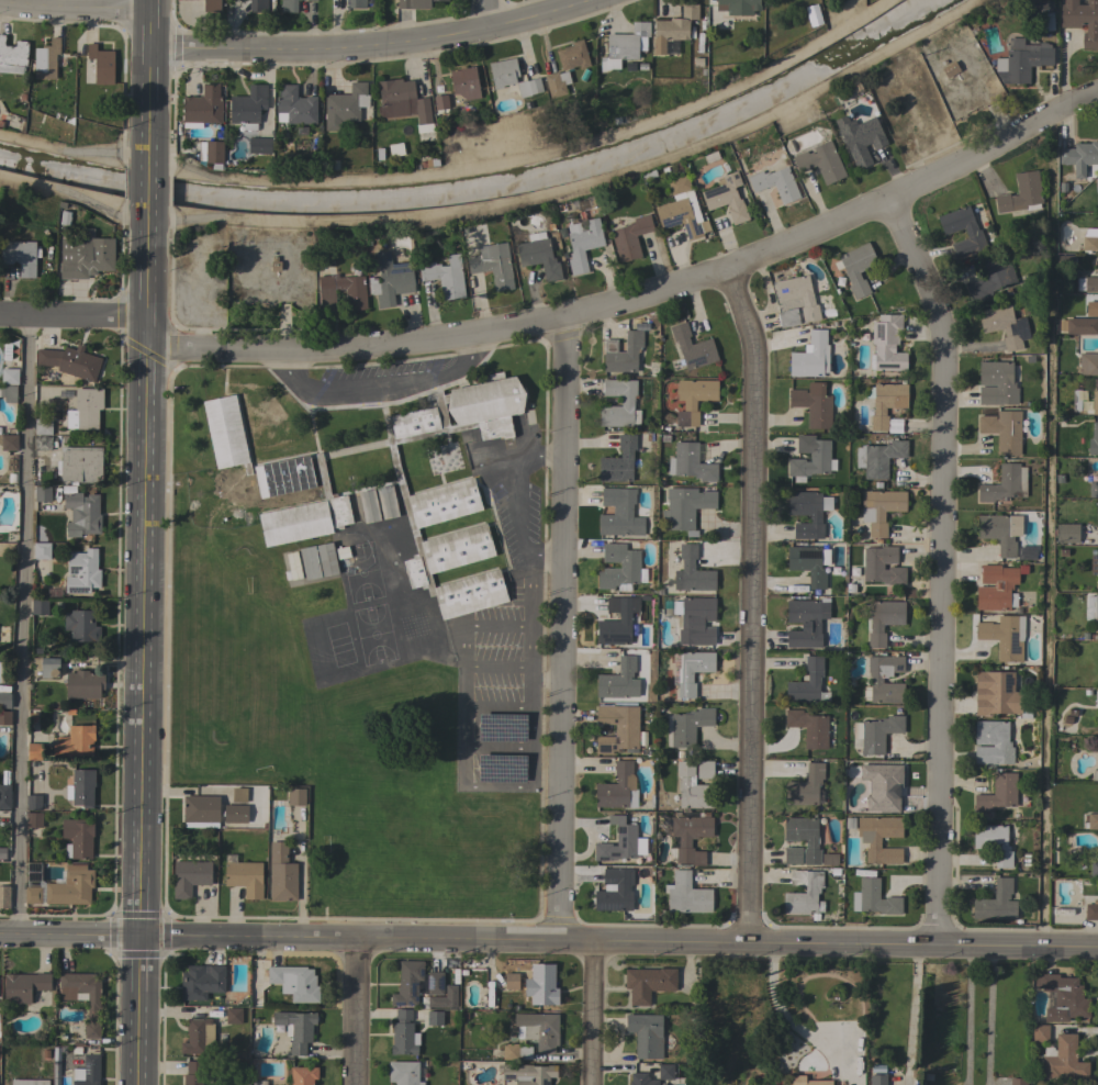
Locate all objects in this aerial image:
building: (797, 2)
building: (357, 3)
building: (415, 3)
building: (780, 3)
building: (211, 5)
building: (258, 5)
building: (289, 5)
building: (738, 5)
road: (78, 7)
road: (492, 12)
building: (1044, 15)
building: (1080, 20)
building: (673, 27)
road: (365, 44)
building: (625, 45)
building: (12, 56)
building: (572, 56)
building: (46, 59)
building: (1023, 60)
building: (101, 64)
building: (503, 72)
road: (147, 80)
building: (466, 82)
building: (557, 83)
building: (529, 87)
building: (403, 103)
building: (440, 103)
building: (345, 105)
building: (248, 107)
building: (294, 107)
building: (202, 108)
building: (862, 141)
building: (259, 145)
building: (396, 149)
building: (213, 152)
road: (530, 153)
building: (1079, 157)
building: (820, 161)
building: (775, 183)
building: (1097, 184)
road: (146, 188)
building: (1021, 193)
building: (727, 198)
building: (583, 204)
building: (680, 209)
building: (973, 232)
building: (630, 237)
building: (1089, 241)
building: (582, 243)
building: (86, 255)
building: (20, 256)
building: (538, 256)
building: (1097, 264)
building: (493, 265)
building: (858, 268)
building: (445, 276)
building: (990, 279)
building: (391, 280)
building: (1091, 284)
road: (640, 294)
building: (806, 295)
building: (355, 298)
building: (1089, 309)
road: (72, 315)
building: (788, 317)
building: (1005, 325)
building: (1082, 326)
building: (886, 344)
road: (470, 348)
building: (693, 348)
building: (621, 354)
building: (810, 356)
building: (69, 361)
building: (1088, 363)
road: (283, 365)
building: (9, 376)
building: (996, 383)
road: (379, 387)
building: (9, 393)
building: (1095, 398)
building: (693, 399)
building: (626, 401)
building: (885, 402)
building: (813, 404)
building: (85, 410)
building: (43, 426)
building: (1002, 430)
building: (1094, 439)
building: (9, 443)
building: (42, 443)
road: (544, 455)
building: (819, 456)
building: (878, 458)
building: (618, 461)
building: (690, 462)
building: (80, 465)
building: (43, 476)
building: (276, 480)
building: (1005, 484)
building: (1094, 489)
building: (455, 492)
building: (42, 494)
building: (386, 502)
road: (514, 502)
building: (808, 504)
building: (369, 506)
building: (685, 506)
building: (1096, 507)
building: (879, 510)
building: (619, 513)
building: (82, 514)
building: (807, 530)
building: (1000, 532)
building: (1066, 533)
building: (41, 550)
road: (544, 557)
building: (326, 559)
building: (310, 562)
building: (809, 563)
building: (1094, 564)
building: (882, 566)
building: (292, 567)
road: (941, 567)
building: (620, 568)
road: (1045, 568)
building: (81, 571)
building: (692, 571)
building: (996, 588)
road: (751, 603)
building: (38, 606)
building: (1096, 608)
building: (885, 614)
building: (693, 615)
building: (617, 620)
building: (805, 623)
road: (20, 624)
road: (494, 625)
building: (81, 626)
road: (559, 629)
building: (1004, 637)
building: (876, 640)
road: (142, 649)
building: (49, 667)
road: (494, 668)
building: (693, 671)
building: (618, 680)
building: (875, 680)
building: (806, 682)
building: (83, 684)
building: (997, 689)
building: (1096, 697)
building: (4, 700)
building: (983, 705)
road: (495, 706)
building: (5, 717)
building: (687, 726)
building: (501, 727)
building: (808, 727)
building: (617, 728)
building: (878, 732)
building: (75, 742)
building: (991, 742)
road: (495, 750)
building: (35, 751)
building: (705, 770)
building: (1097, 774)
building: (879, 782)
road: (530, 785)
building: (805, 786)
building: (81, 787)
building: (618, 787)
building: (692, 787)
building: (4, 791)
building: (998, 793)
building: (239, 795)
building: (296, 797)
building: (33, 802)
building: (201, 812)
building: (236, 813)
building: (33, 819)
building: (1090, 821)
building: (802, 830)
building: (690, 837)
building: (77, 838)
building: (870, 839)
building: (619, 841)
building: (993, 842)
building: (1097, 844)
building: (2, 853)
building: (792, 855)
building: (811, 857)
building: (1028, 861)
building: (1094, 869)
building: (281, 873)
building: (244, 876)
building: (189, 877)
building: (33, 883)
building: (70, 886)
building: (811, 890)
building: (615, 891)
building: (686, 894)
building: (4, 895)
building: (874, 898)
building: (996, 903)
building: (1091, 911)
road: (549, 939)
building: (455, 973)
building: (463, 973)
building: (455, 981)
building: (511, 981)
building: (201, 982)
building: (294, 982)
building: (407, 983)
building: (435, 983)
building: (648, 983)
building: (24, 986)
building: (544, 988)
building: (1063, 997)
building: (432, 1003)
building: (449, 1003)
building: (93, 1005)
building: (424, 1006)
road: (775, 1007)
road: (357, 1011)
road: (591, 1013)
road: (915, 1013)
road: (967, 1015)
road: (988, 1015)
building: (233, 1016)
building: (462, 1016)
building: (435, 1018)
building: (295, 1029)
building: (538, 1029)
building: (198, 1033)
building: (403, 1033)
building: (1040, 1033)
building: (646, 1034)
building: (76, 1050)
building: (516, 1051)
building: (57, 1053)
building: (45, 1054)
building: (1063, 1059)
building: (55, 1070)
building: (87, 1071)
building: (665, 1071)
building: (193, 1073)
building: (404, 1073)
building: (527, 1073)
building: (303, 1075)
building: (877, 1078)
building: (640, 1080)
building: (806, 1081)
building: (1018, 1081)
building: (29, 1082)
building: (55, 1082)
building: (257, 1083)

